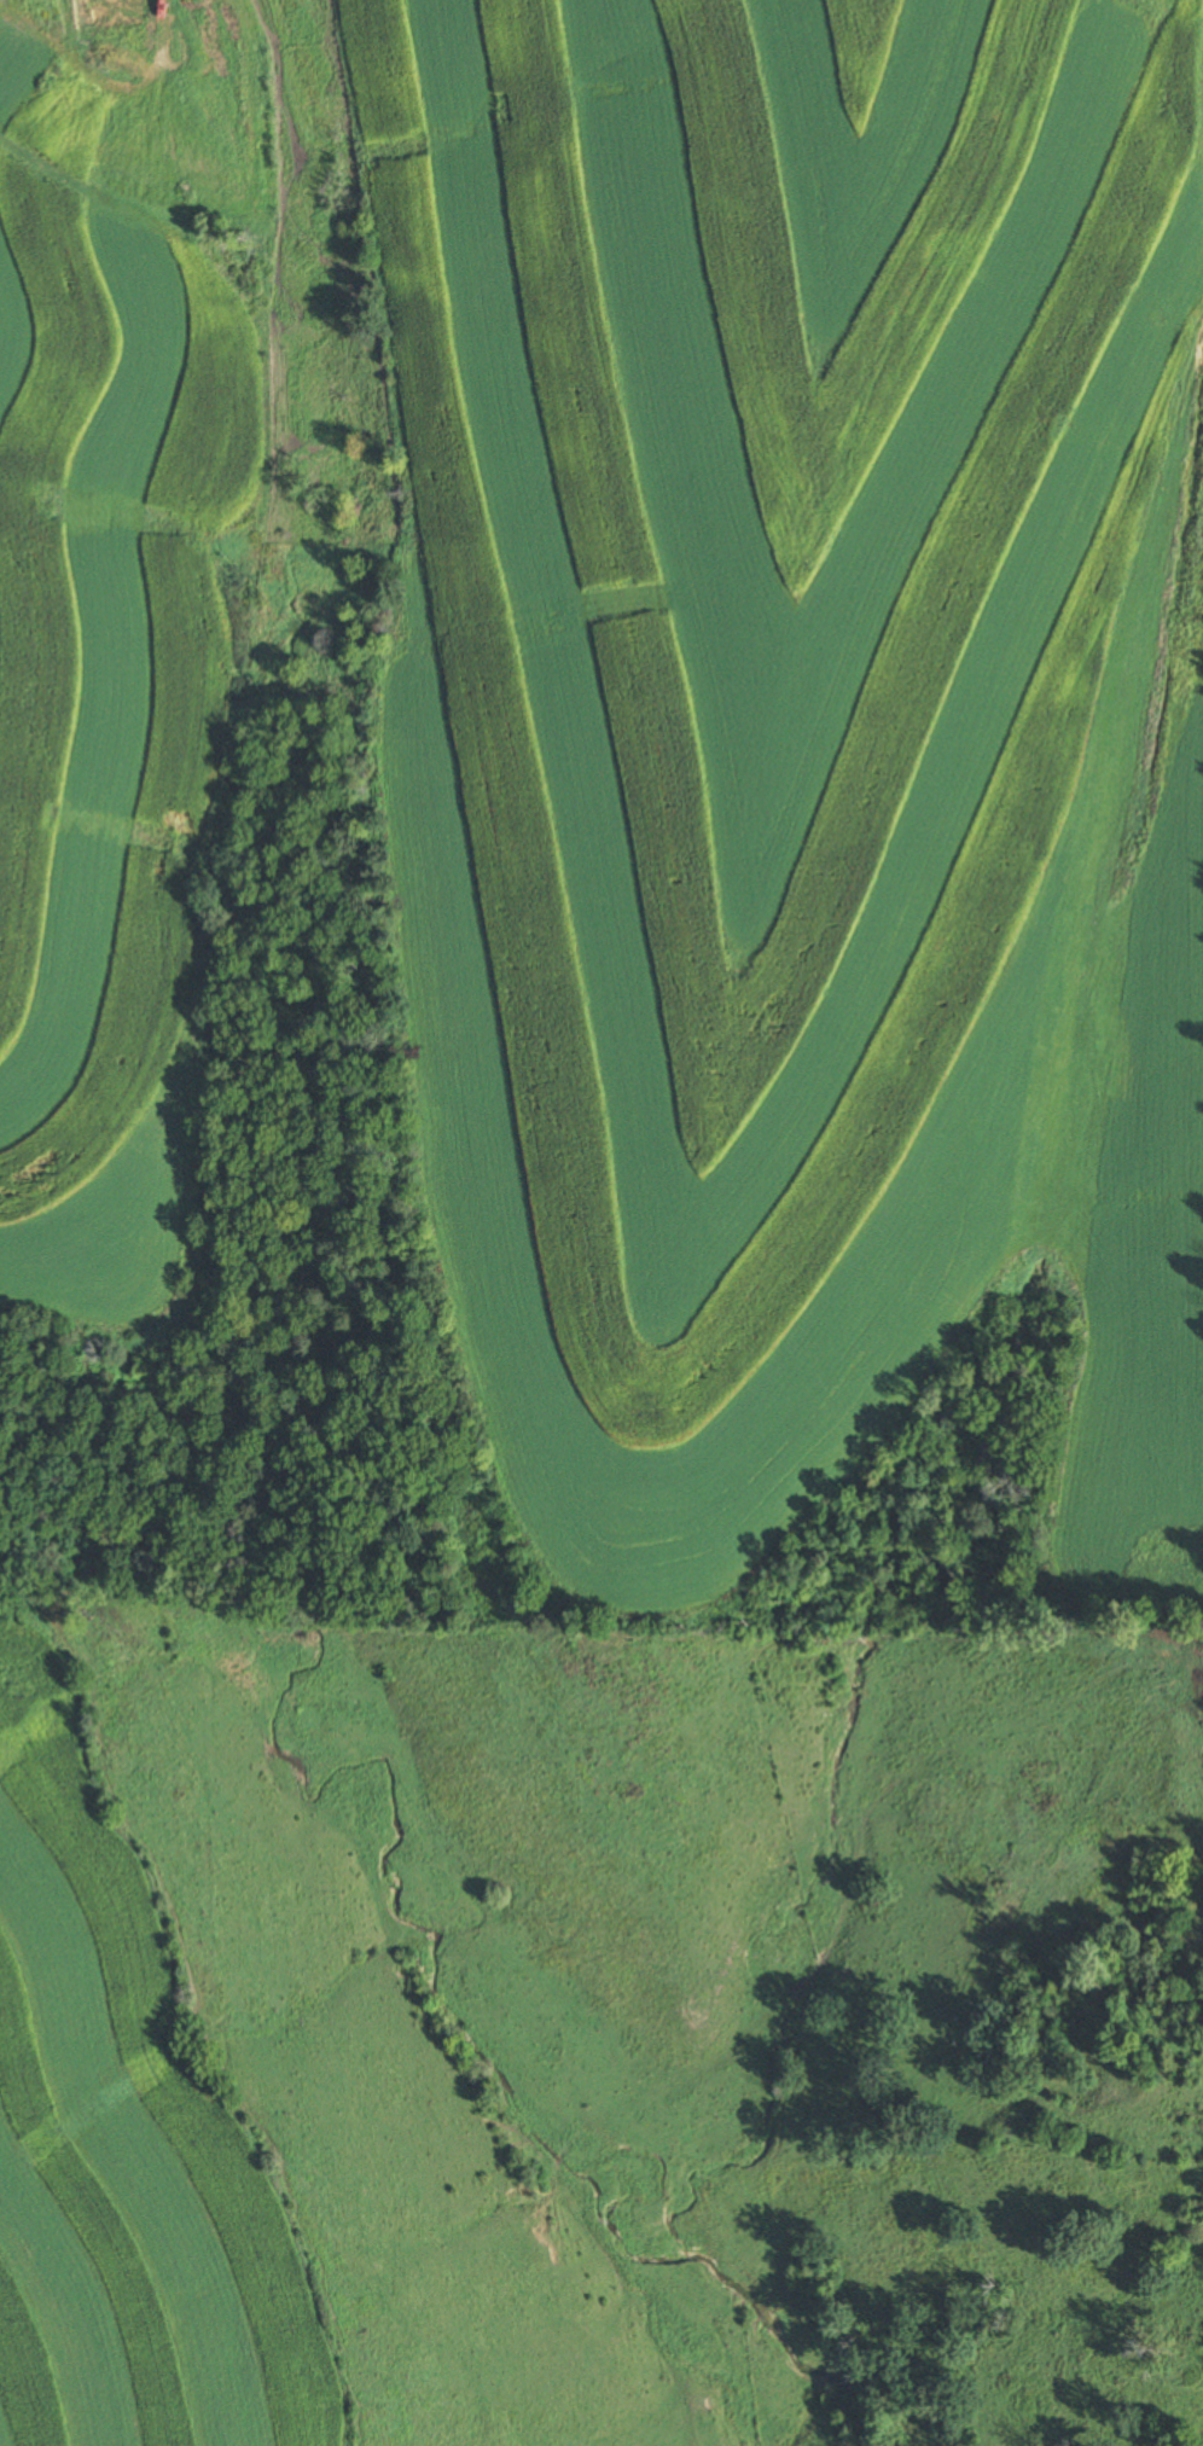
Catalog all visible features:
road: (1197, 594)

